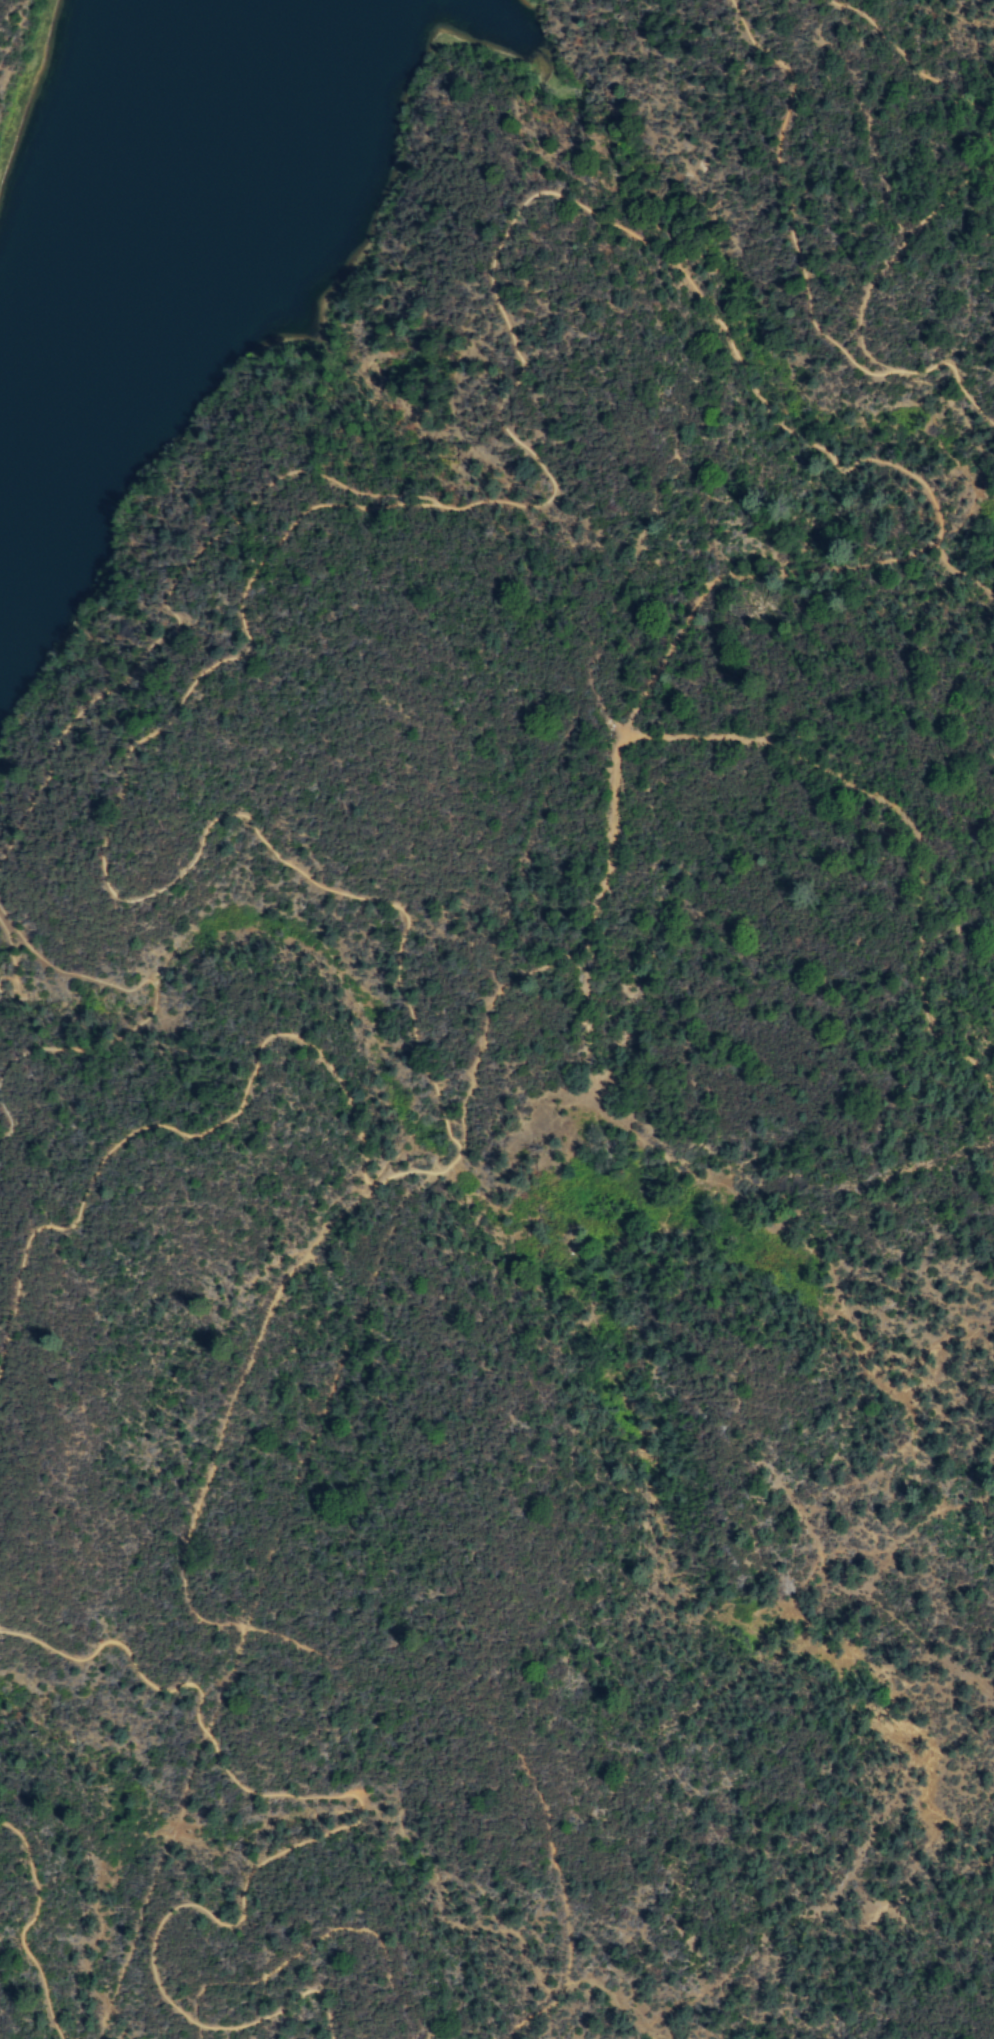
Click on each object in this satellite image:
road: (901, 64)
road: (584, 204)
river: (135, 252)
road: (804, 265)
road: (881, 363)
road: (740, 574)
road: (964, 574)
road: (184, 616)
road: (906, 811)
road: (134, 901)
road: (560, 957)
road: (150, 1020)
road: (174, 1126)
road: (248, 1358)
road: (1, 1630)
road: (228, 1679)
road: (521, 1760)
road: (335, 1797)
road: (33, 1925)
road: (323, 1933)
road: (289, 2010)
road: (199, 2031)

